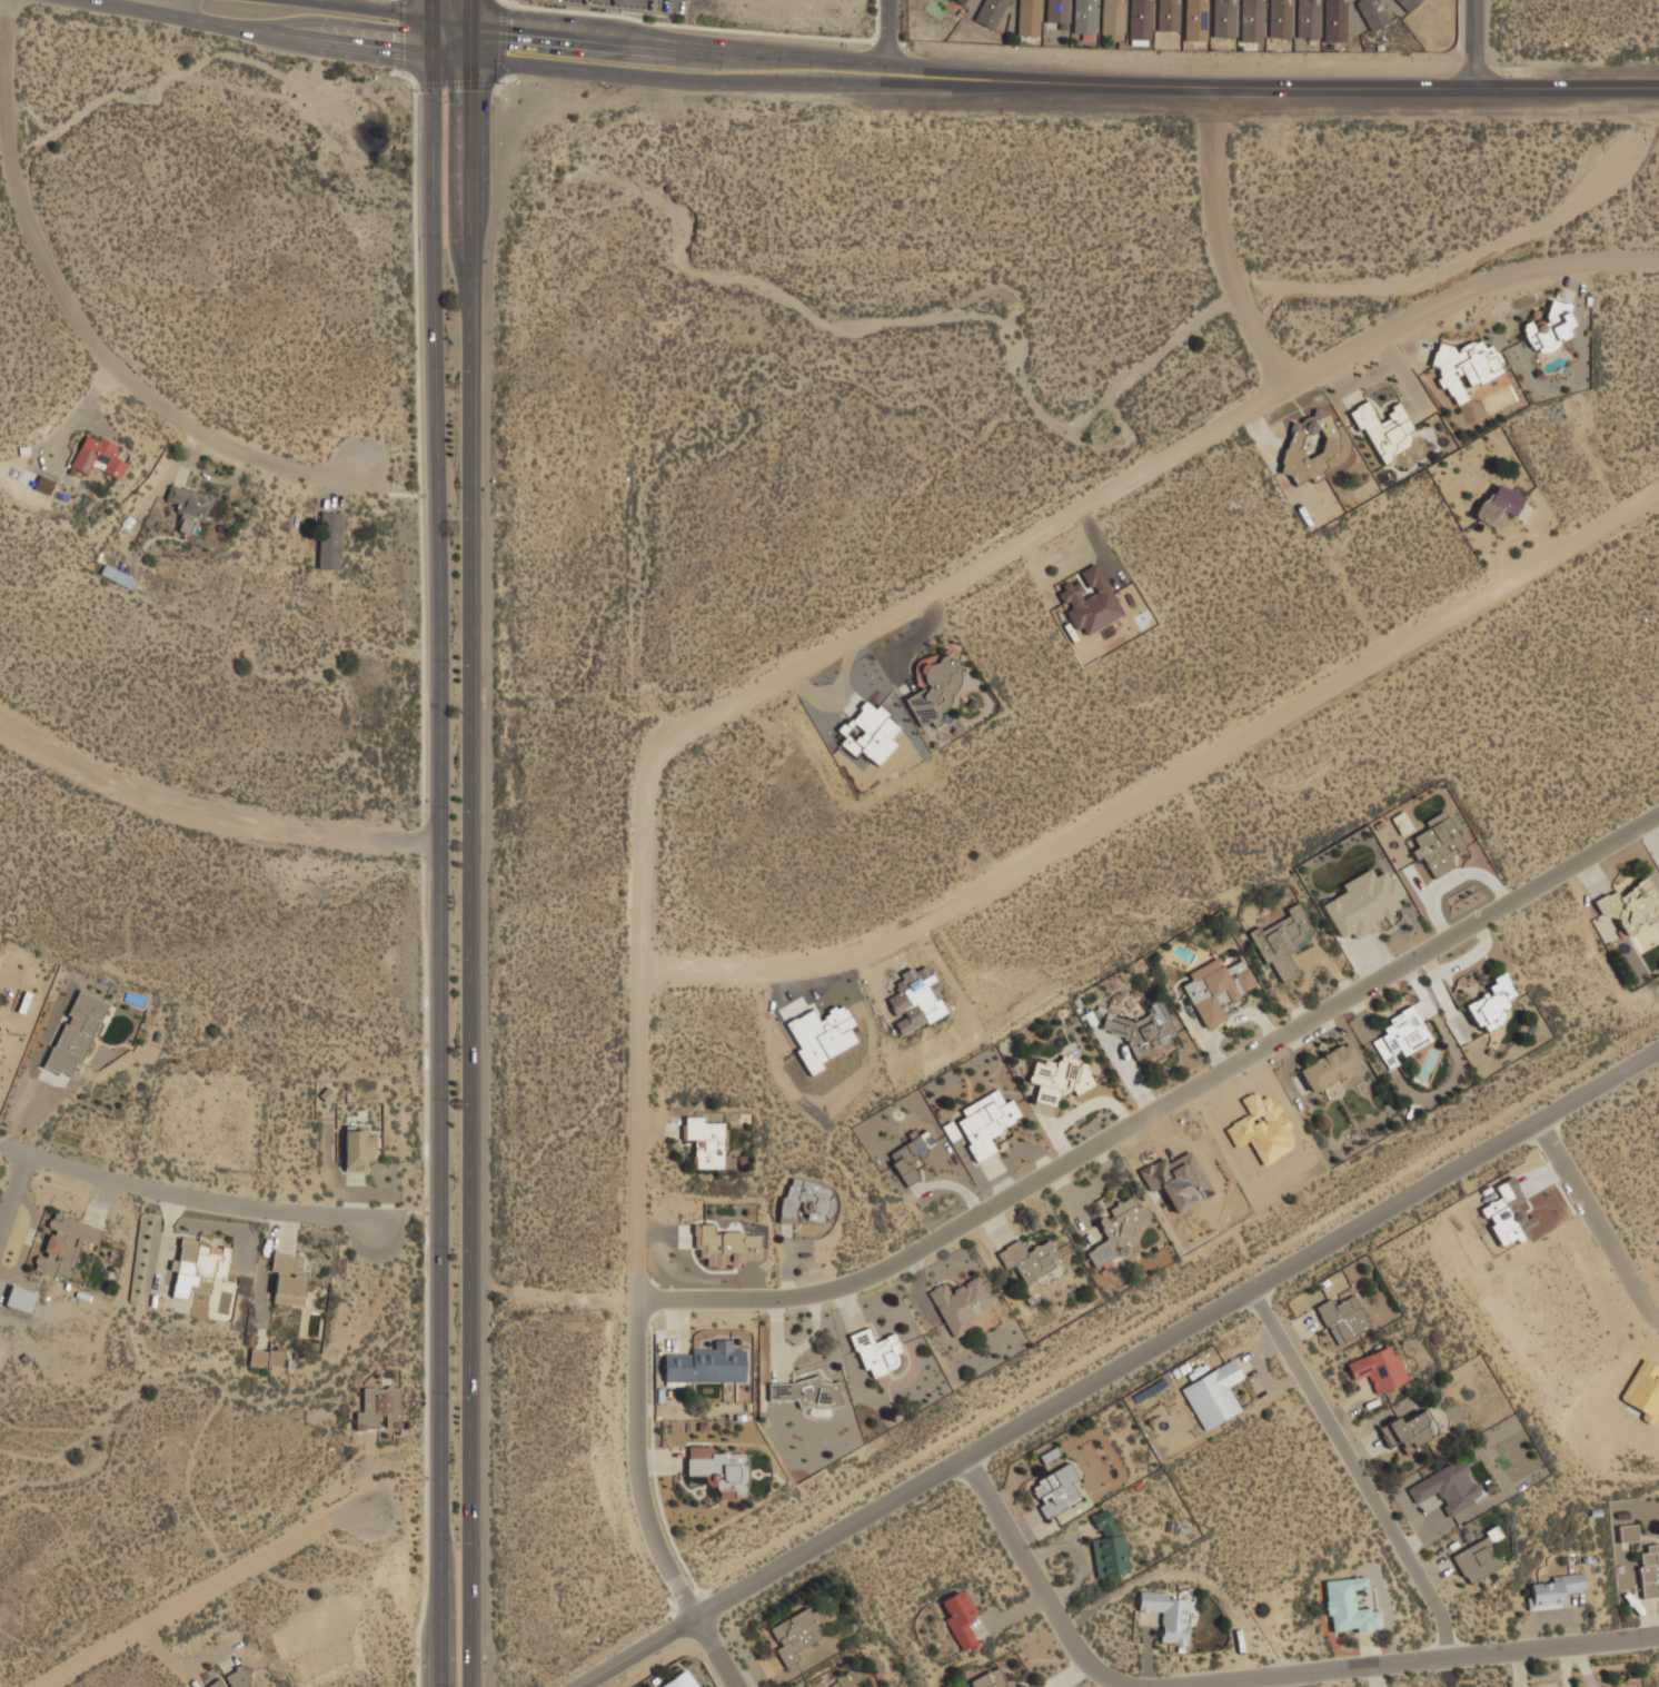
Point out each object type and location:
building: (958, 1)
building: (1408, 3)
building: (990, 11)
building: (1056, 12)
building: (1372, 12)
building: (1168, 14)
building: (1084, 16)
building: (1029, 17)
building: (1112, 17)
road: (296, 18)
road: (433, 18)
building: (1222, 18)
building: (1278, 18)
building: (1307, 18)
road: (470, 19)
building: (1140, 19)
building: (1194, 20)
building: (1251, 20)
building: (1334, 20)
road: (625, 24)
traffic signals: (433, 37)
road: (887, 37)
traffic signals: (470, 38)
road: (1474, 44)
road: (1044, 81)
road: (1222, 245)
road: (80, 320)
building: (1549, 326)
building: (1464, 366)
building: (1384, 429)
building: (1313, 447)
building: (97, 455)
road: (1144, 473)
building: (188, 499)
building: (1497, 504)
building: (329, 539)
building: (117, 575)
building: (1089, 601)
building: (934, 685)
building: (868, 733)
road: (1170, 786)
road: (211, 813)
building: (1402, 823)
building: (1437, 843)
road: (647, 860)
road: (439, 861)
road: (470, 862)
building: (1362, 902)
building: (1630, 904)
building: (1282, 941)
building: (1216, 988)
building: (1489, 1003)
building: (1142, 1029)
building: (74, 1032)
building: (1399, 1034)
building: (1329, 1065)
building: (1060, 1078)
road: (1159, 1102)
building: (984, 1121)
road: (637, 1134)
building: (705, 1139)
building: (358, 1149)
building: (911, 1154)
road: (12, 1194)
road: (187, 1198)
building: (806, 1201)
road: (1599, 1227)
building: (1117, 1229)
building: (63, 1243)
building: (725, 1246)
building: (1030, 1258)
building: (198, 1266)
building: (287, 1279)
building: (20, 1298)
road: (577, 1298)
building: (958, 1304)
building: (1342, 1317)
building: (876, 1350)
building: (266, 1357)
building: (704, 1363)
building: (1378, 1367)
road: (1113, 1372)
building: (1212, 1392)
building: (807, 1395)
building: (379, 1407)
building: (1409, 1429)
building: (716, 1468)
road: (1358, 1472)
building: (1448, 1486)
building: (1054, 1489)
road: (638, 1505)
building: (1628, 1531)
building: (1106, 1542)
building: (1478, 1556)
building: (1649, 1570)
road: (1037, 1580)
building: (1552, 1589)
road: (202, 1592)
building: (1348, 1605)
road: (448, 1608)
building: (1166, 1615)
building: (958, 1616)
road: (423, 1629)
building: (795, 1633)
road: (1414, 1661)
building: (990, 1678)
building: (231, 1679)
building: (678, 1679)
building: (848, 1686)
building: (1019, 1686)
building: (1027, 1686)

